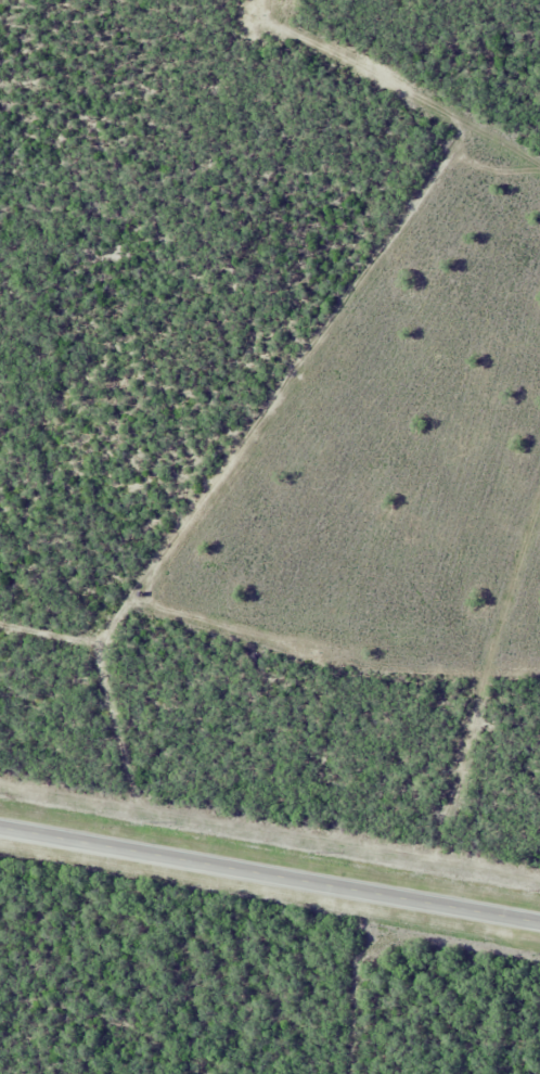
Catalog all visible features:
road: (270, 873)

